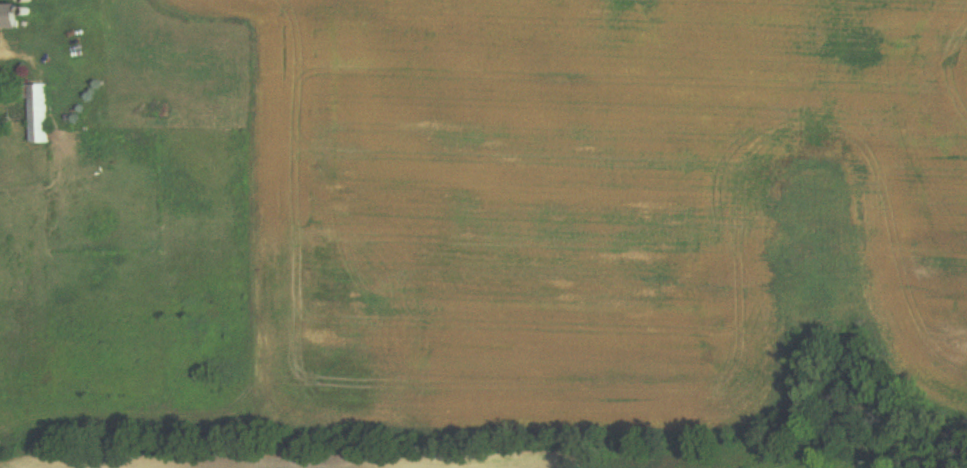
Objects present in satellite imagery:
building: (12, 16)
road: (13, 56)
building: (39, 114)

